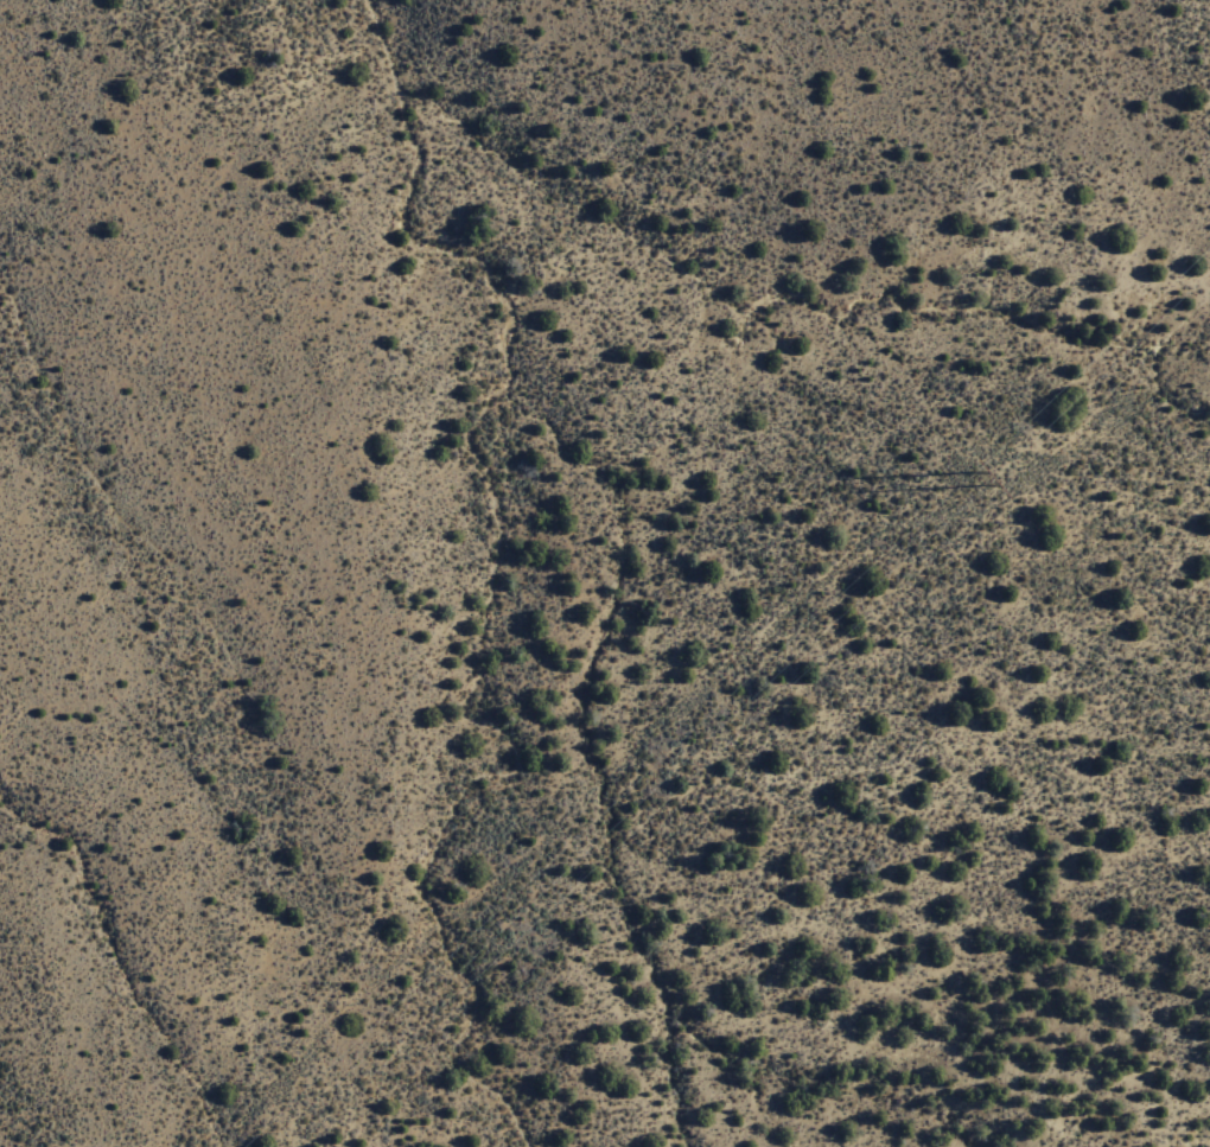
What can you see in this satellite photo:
power tower: (976, 482)

